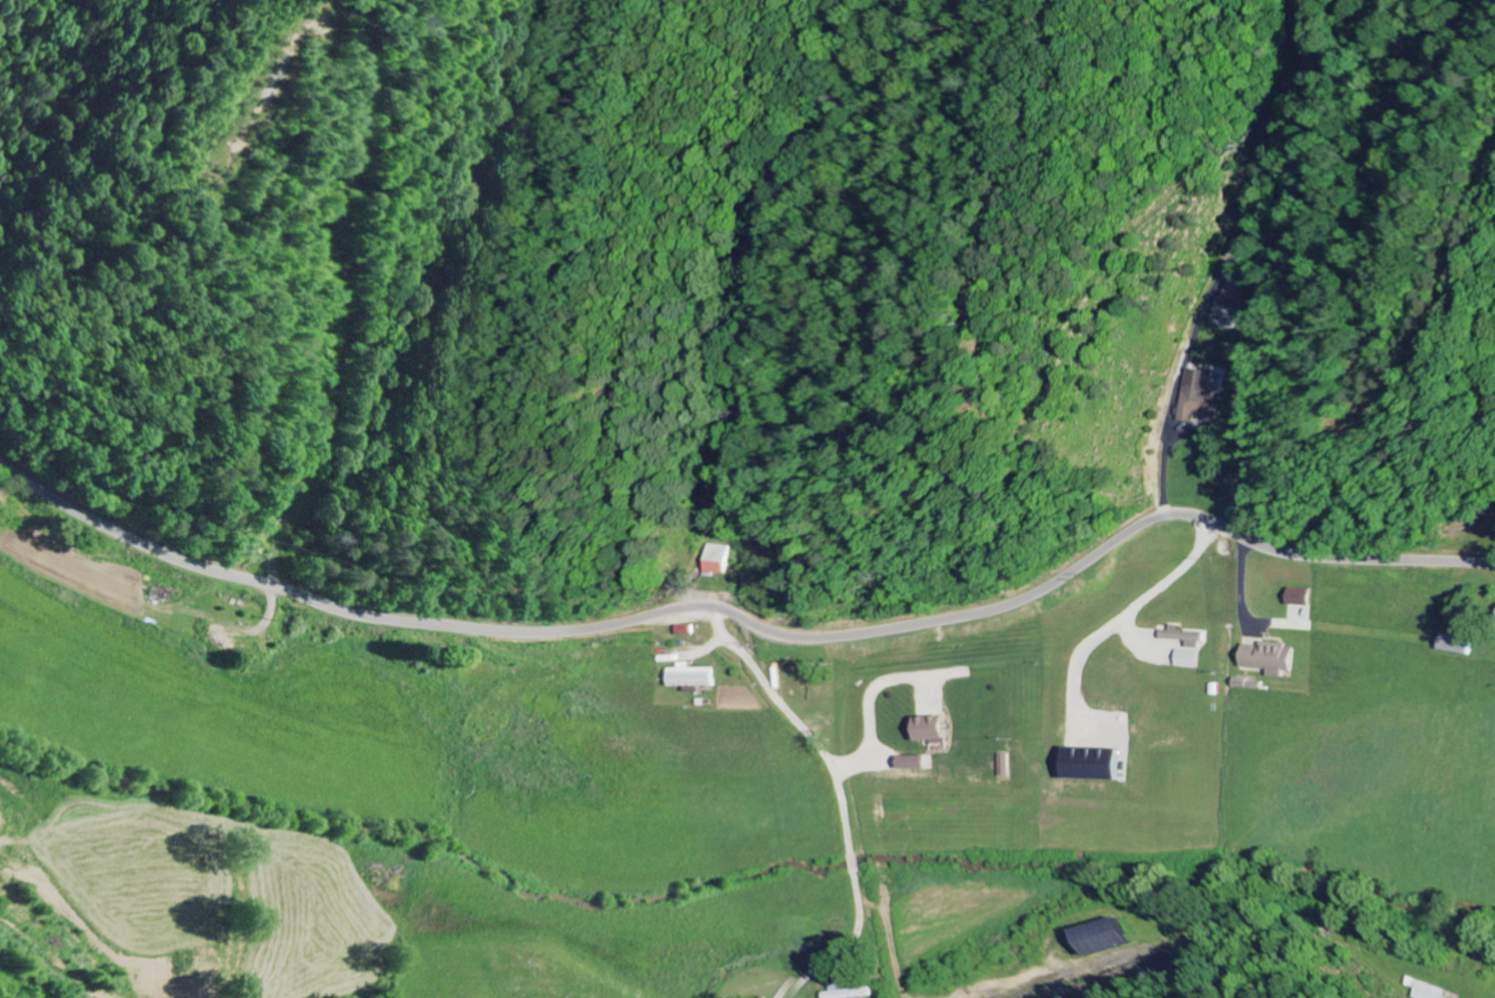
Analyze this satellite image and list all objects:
building: (1238, 246)
building: (1222, 308)
building: (1195, 396)
building: (714, 559)
building: (1297, 597)
road: (747, 621)
building: (1181, 637)
building: (1452, 644)
building: (1184, 658)
building: (1267, 658)
building: (687, 677)
road: (793, 725)
building: (929, 729)
building: (911, 763)
building: (1090, 765)
building: (1087, 936)
road: (826, 959)
road: (1488, 989)
building: (842, 992)

